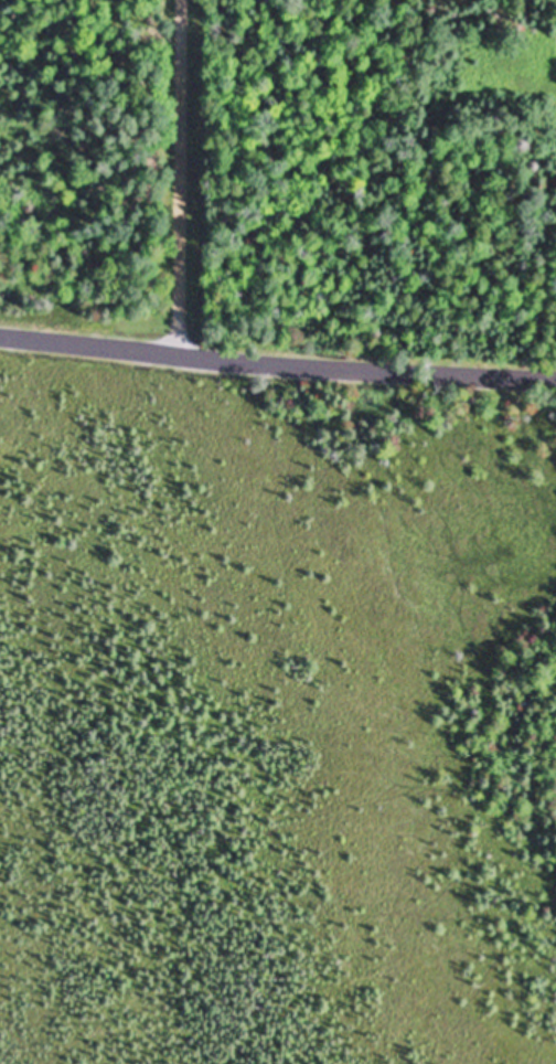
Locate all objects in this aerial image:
road: (180, 179)
road: (277, 366)

